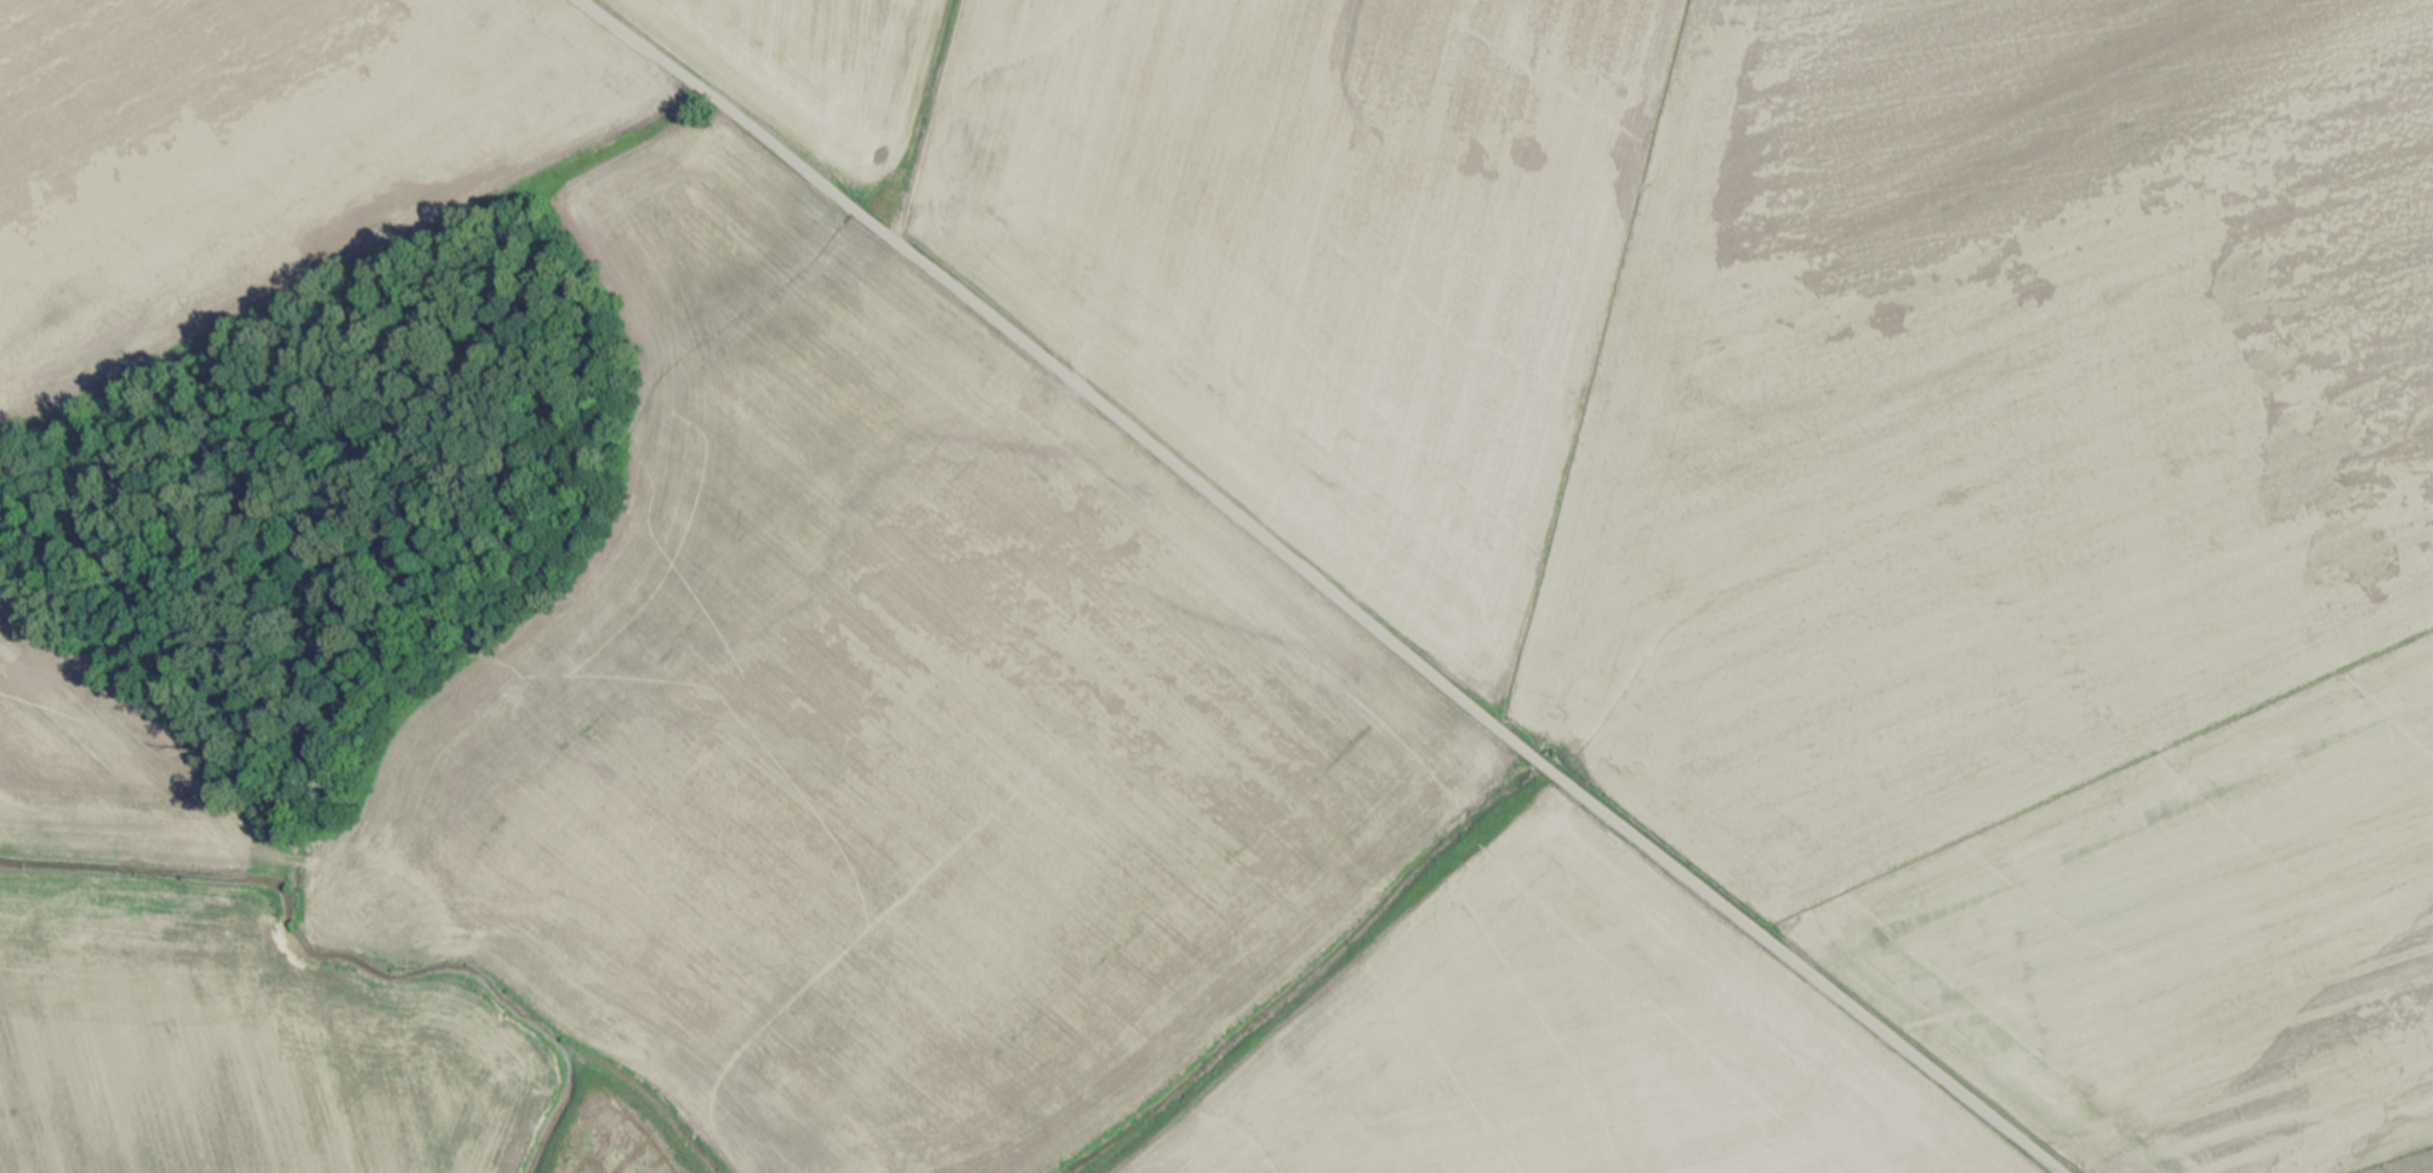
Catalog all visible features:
road: (1321, 585)

